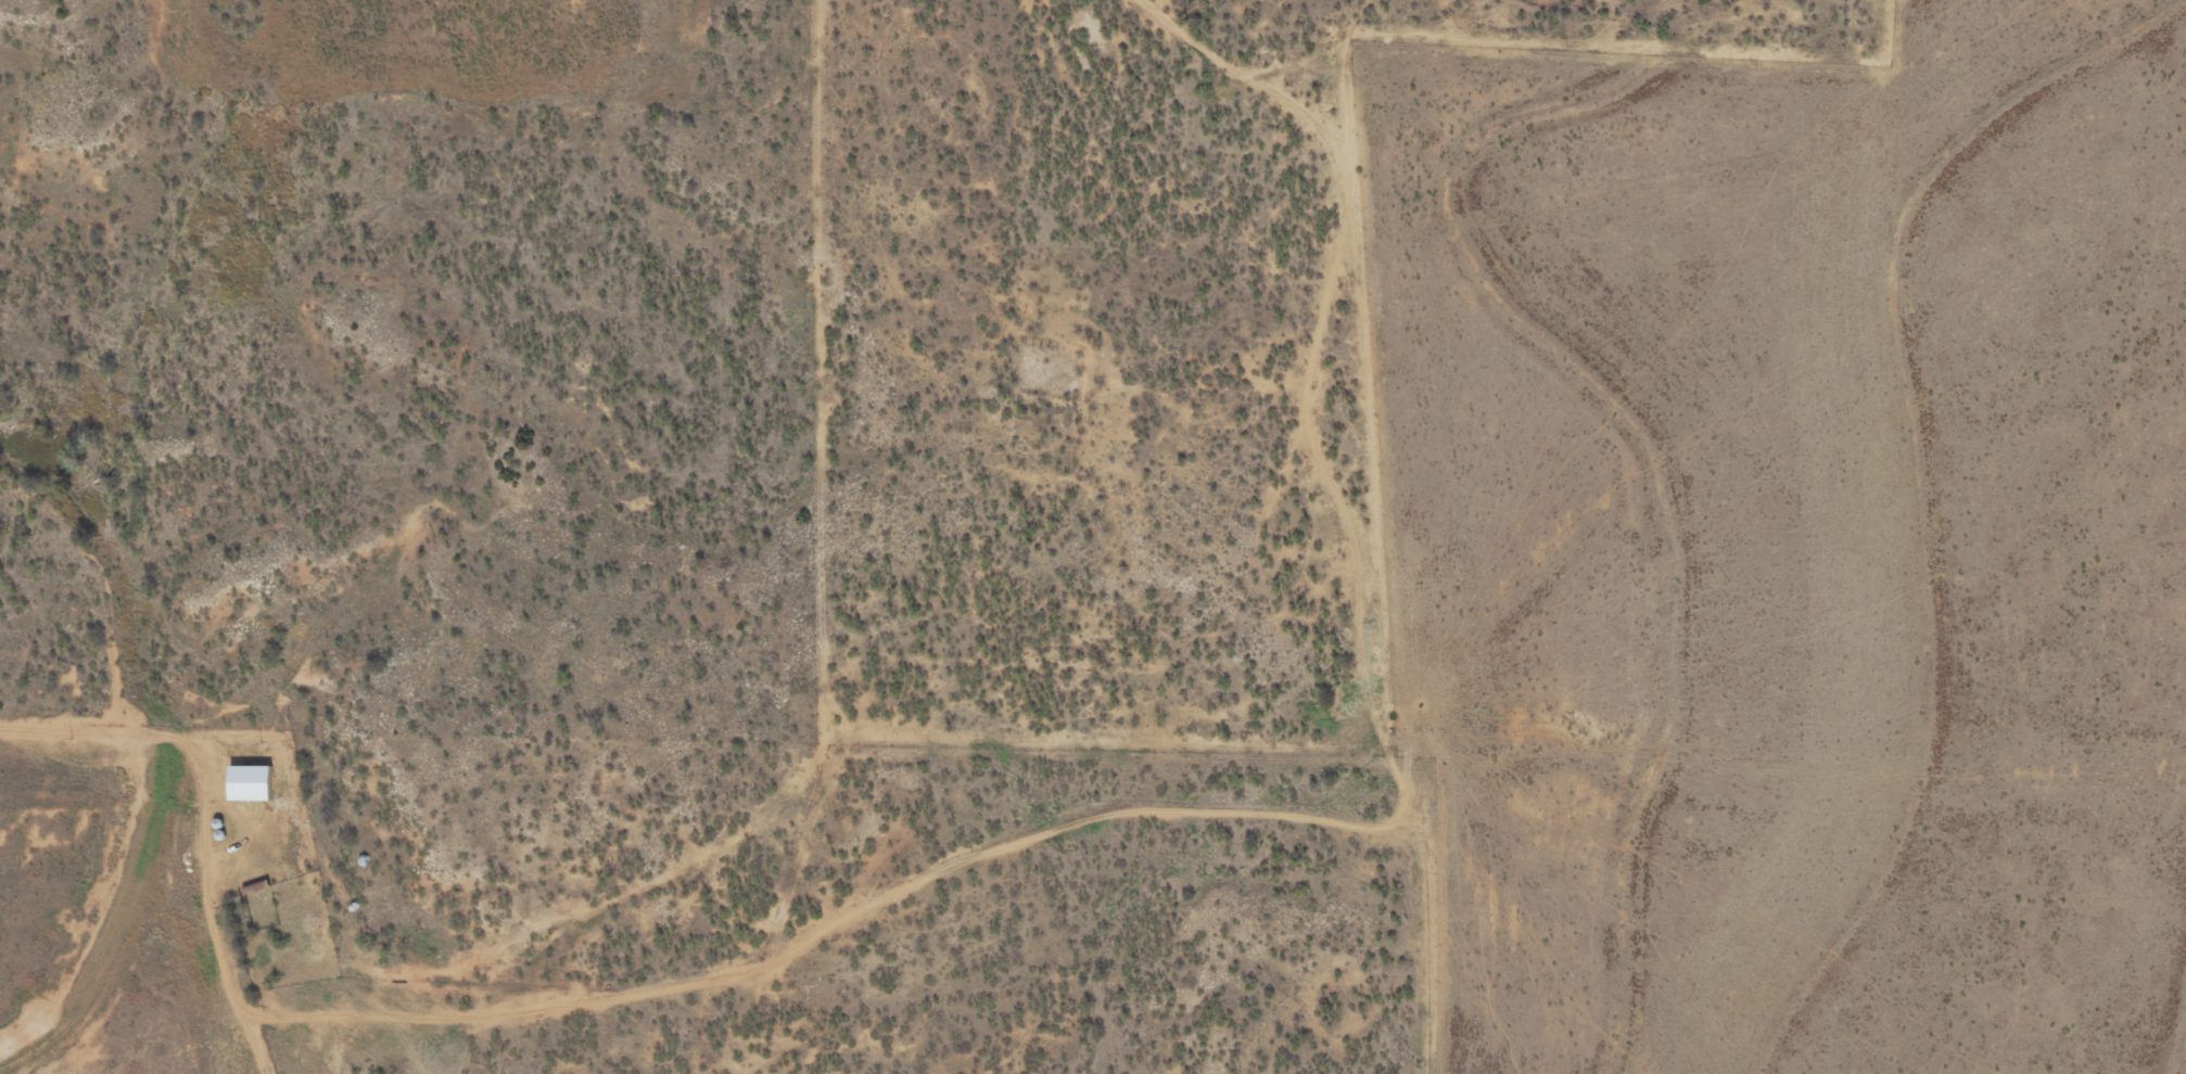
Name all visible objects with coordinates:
road: (1151, 581)
road: (256, 721)
road: (161, 730)
building: (260, 907)

